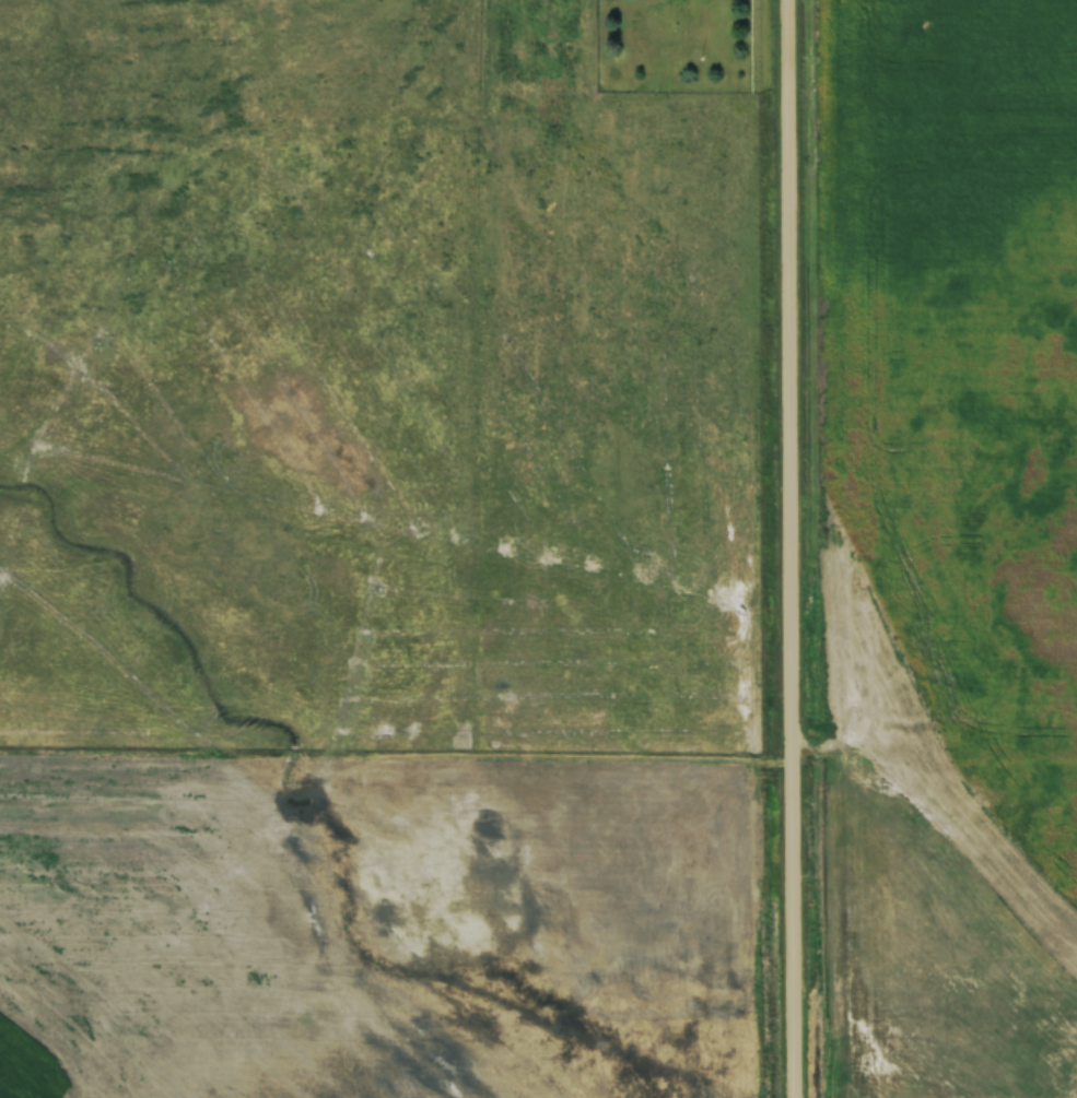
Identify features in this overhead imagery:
road: (810, 548)

